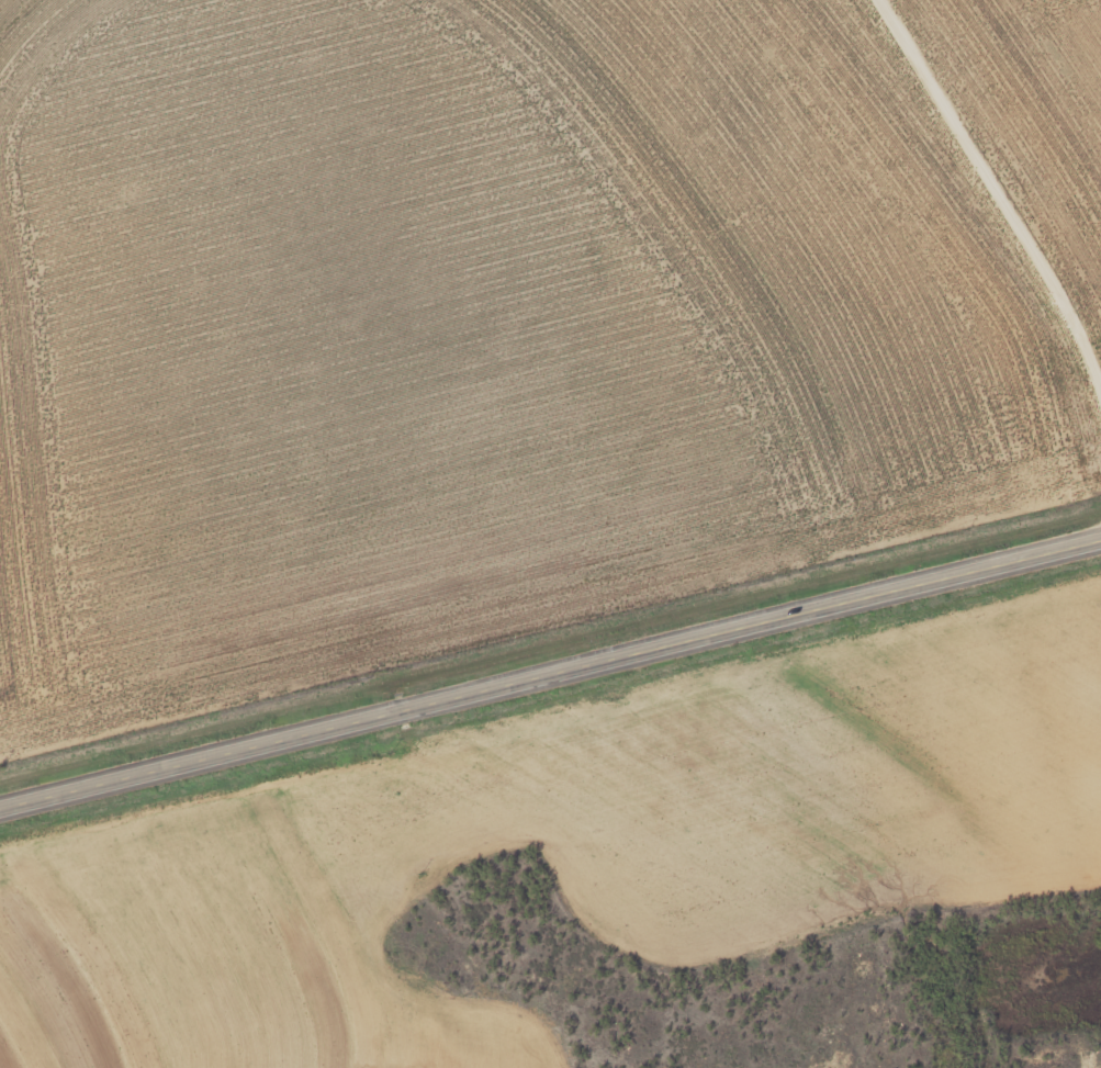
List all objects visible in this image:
road: (550, 670)

